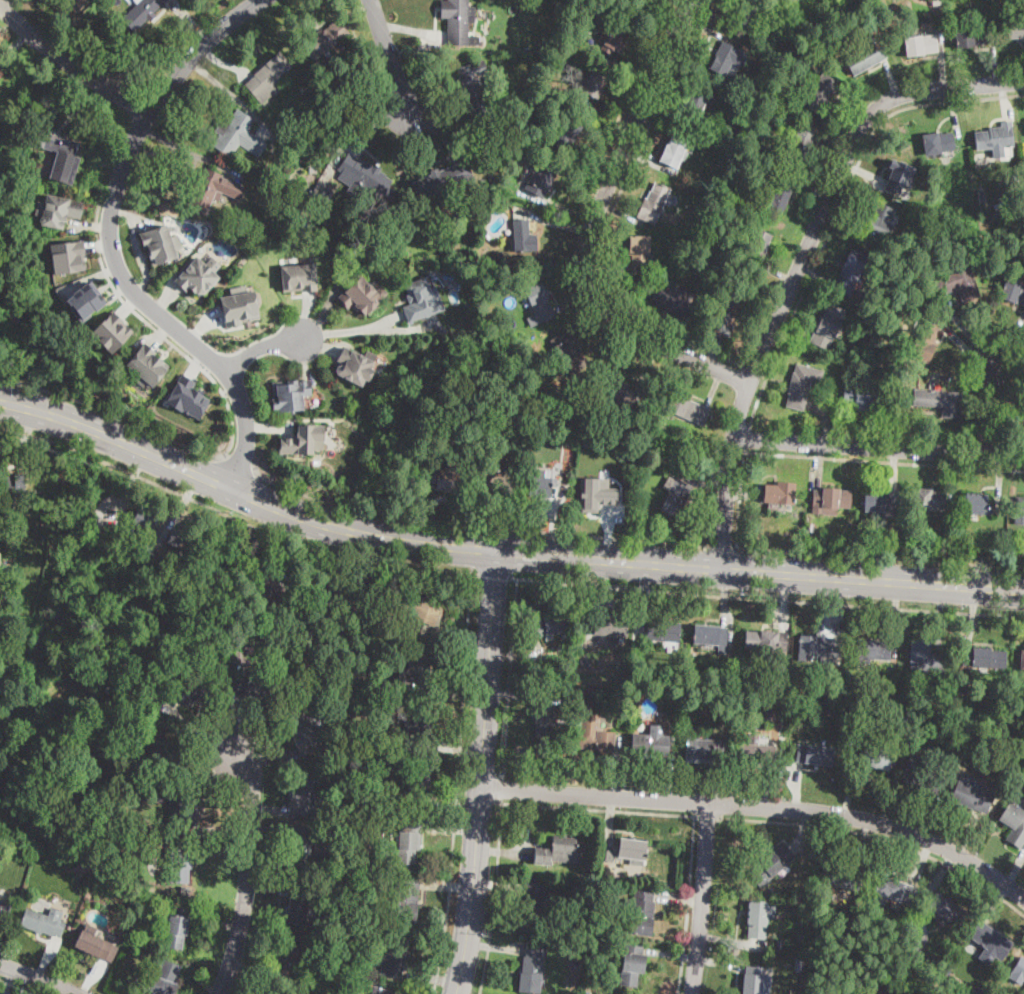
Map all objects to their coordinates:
building: (623, 0)
building: (937, 2)
building: (76, 3)
building: (142, 12)
building: (745, 13)
building: (458, 22)
building: (580, 24)
building: (1015, 29)
building: (327, 38)
building: (971, 38)
building: (614, 39)
building: (918, 46)
building: (550, 48)
road: (390, 57)
building: (866, 57)
building: (727, 58)
road: (69, 64)
building: (268, 77)
building: (594, 85)
building: (476, 91)
building: (821, 92)
building: (305, 94)
building: (694, 104)
building: (1, 128)
building: (735, 128)
building: (565, 132)
building: (0, 134)
building: (237, 135)
building: (995, 137)
building: (938, 142)
building: (797, 145)
building: (675, 150)
building: (60, 156)
building: (0, 168)
building: (765, 168)
building: (312, 170)
building: (362, 177)
building: (541, 177)
building: (900, 177)
building: (443, 179)
building: (492, 179)
building: (287, 184)
building: (208, 190)
building: (267, 194)
building: (980, 194)
building: (280, 197)
building: (777, 199)
building: (322, 200)
building: (654, 203)
road: (841, 205)
building: (57, 209)
road: (608, 214)
building: (999, 214)
building: (882, 220)
building: (299, 227)
road: (587, 228)
building: (523, 237)
road: (112, 243)
building: (160, 243)
building: (758, 245)
building: (639, 250)
building: (67, 256)
building: (458, 257)
road: (801, 260)
building: (198, 276)
building: (298, 276)
building: (848, 276)
building: (955, 284)
building: (1012, 292)
building: (361, 294)
building: (421, 299)
building: (672, 300)
building: (85, 301)
building: (538, 304)
building: (239, 305)
building: (727, 312)
building: (827, 326)
road: (352, 328)
building: (111, 331)
road: (161, 334)
building: (924, 341)
road: (261, 347)
building: (568, 352)
building: (355, 365)
building: (146, 366)
road: (755, 371)
building: (801, 385)
building: (616, 389)
building: (290, 393)
building: (187, 397)
building: (864, 399)
building: (940, 401)
building: (1023, 403)
road: (986, 408)
building: (688, 409)
road: (110, 413)
road: (23, 437)
building: (304, 439)
road: (746, 439)
building: (564, 442)
road: (879, 448)
road: (5, 460)
road: (882, 462)
road: (236, 466)
building: (448, 480)
building: (491, 482)
road: (131, 484)
building: (541, 486)
building: (12, 487)
building: (599, 490)
building: (780, 493)
building: (675, 496)
building: (831, 500)
building: (882, 501)
building: (929, 501)
building: (977, 505)
road: (178, 507)
building: (1019, 508)
road: (235, 514)
building: (144, 521)
road: (475, 526)
building: (811, 528)
building: (941, 538)
building: (180, 539)
road: (289, 547)
road: (723, 547)
road: (500, 551)
road: (880, 556)
building: (165, 566)
road: (365, 569)
road: (494, 574)
building: (273, 592)
building: (335, 596)
road: (767, 597)
building: (420, 608)
building: (550, 625)
building: (612, 626)
building: (663, 632)
road: (455, 636)
building: (710, 636)
building: (766, 640)
building: (819, 646)
building: (872, 650)
building: (921, 657)
building: (985, 658)
building: (1021, 661)
building: (633, 668)
building: (417, 672)
road: (511, 679)
building: (256, 688)
building: (964, 689)
building: (108, 690)
building: (189, 690)
road: (457, 693)
building: (379, 694)
building: (314, 696)
building: (1014, 708)
building: (778, 720)
building: (545, 722)
building: (418, 725)
road: (235, 726)
building: (370, 726)
road: (199, 730)
building: (304, 734)
building: (597, 739)
building: (973, 739)
building: (649, 744)
road: (458, 746)
building: (705, 748)
building: (756, 754)
building: (814, 755)
building: (165, 757)
road: (264, 757)
building: (877, 757)
road: (481, 773)
building: (356, 775)
road: (200, 777)
building: (920, 778)
road: (458, 783)
building: (419, 786)
road: (502, 790)
building: (304, 792)
building: (969, 792)
road: (455, 805)
building: (374, 806)
road: (762, 806)
road: (597, 809)
road: (271, 811)
building: (184, 815)
road: (707, 816)
building: (1014, 824)
road: (450, 829)
road: (269, 832)
road: (220, 835)
road: (882, 839)
building: (406, 842)
building: (301, 849)
building: (559, 852)
building: (632, 852)
building: (609, 856)
road: (221, 860)
building: (180, 866)
building: (771, 866)
building: (155, 867)
road: (247, 872)
building: (842, 877)
building: (601, 879)
road: (266, 885)
road: (448, 885)
building: (893, 891)
road: (494, 898)
building: (405, 899)
road: (702, 899)
road: (688, 905)
building: (299, 906)
building: (535, 907)
building: (943, 908)
building: (4, 909)
building: (641, 912)
building: (758, 914)
road: (216, 917)
building: (605, 918)
building: (42, 922)
building: (176, 927)
building: (112, 931)
building: (115, 940)
building: (987, 940)
building: (97, 946)
building: (392, 953)
building: (599, 953)
road: (48, 956)
building: (288, 958)
building: (894, 959)
road: (251, 964)
building: (631, 965)
building: (852, 966)
building: (1019, 968)
building: (532, 969)
road: (39, 976)
road: (91, 977)
building: (166, 978)
road: (432, 978)
road: (10, 980)
building: (752, 983)
road: (20, 986)
road: (65, 991)
building: (381, 991)
building: (876, 993)
building: (890, 993)

